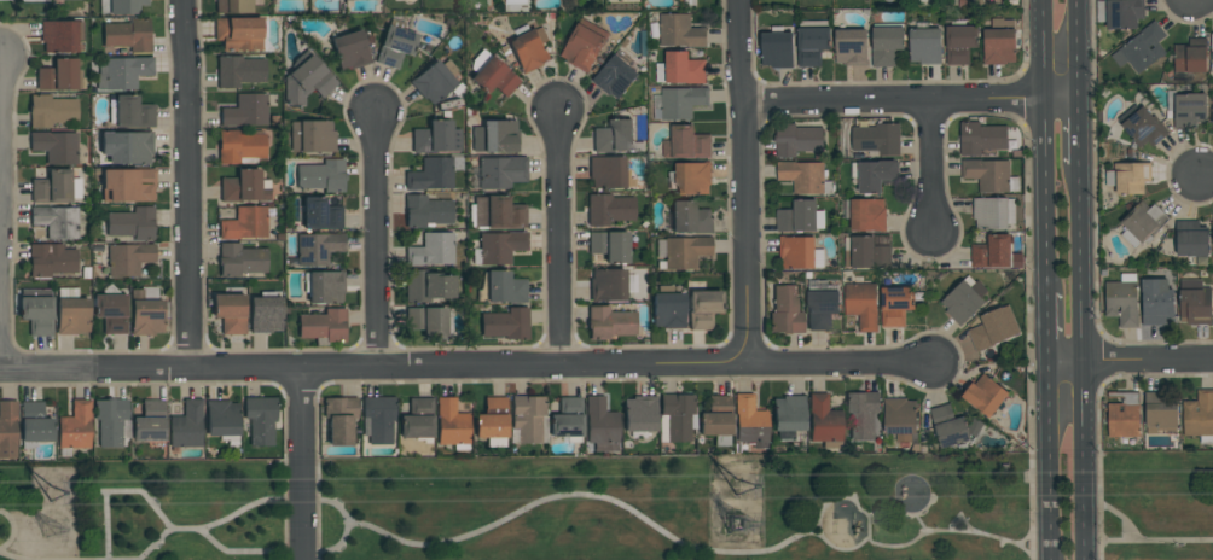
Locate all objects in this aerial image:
building: (4, 0)
building: (34, 0)
building: (516, 1)
building: (979, 1)
building: (690, 2)
building: (126, 6)
building: (234, 6)
building: (1120, 13)
building: (679, 31)
building: (238, 34)
building: (128, 35)
building: (60, 36)
building: (812, 41)
building: (959, 41)
building: (999, 42)
building: (886, 43)
building: (584, 45)
building: (394, 46)
building: (851, 46)
building: (925, 46)
building: (777, 48)
building: (1141, 48)
building: (529, 49)
building: (350, 51)
road: (1079, 51)
building: (1212, 52)
building: (1190, 56)
building: (679, 69)
building: (239, 71)
building: (123, 72)
building: (616, 75)
building: (60, 76)
building: (493, 77)
building: (307, 81)
building: (433, 82)
building: (681, 101)
road: (911, 103)
building: (1186, 107)
building: (52, 111)
building: (245, 111)
building: (132, 112)
building: (1212, 112)
building: (1142, 126)
road: (1080, 132)
building: (312, 136)
building: (494, 136)
building: (615, 136)
building: (436, 138)
building: (981, 138)
building: (796, 139)
building: (876, 139)
building: (686, 142)
building: (240, 146)
road: (1044, 146)
building: (56, 147)
building: (127, 147)
road: (1, 150)
road: (931, 171)
building: (501, 173)
building: (608, 173)
building: (430, 175)
building: (874, 175)
building: (989, 175)
building: (321, 176)
building: (803, 176)
road: (1206, 176)
building: (690, 177)
building: (1128, 177)
road: (744, 181)
building: (127, 185)
road: (187, 186)
building: (57, 187)
building: (244, 187)
building: (609, 209)
building: (426, 211)
building: (495, 212)
building: (993, 212)
building: (865, 214)
building: (319, 215)
building: (689, 217)
building: (800, 217)
building: (57, 221)
building: (1142, 222)
building: (130, 223)
building: (244, 223)
building: (1191, 239)
road: (561, 241)
road: (376, 243)
building: (608, 245)
building: (500, 247)
building: (317, 249)
building: (431, 250)
building: (684, 252)
building: (800, 252)
building: (866, 252)
building: (994, 252)
building: (128, 258)
building: (52, 259)
building: (240, 259)
building: (606, 285)
building: (429, 286)
building: (324, 287)
building: (504, 288)
building: (1122, 299)
building: (964, 301)
building: (1156, 301)
building: (1194, 302)
building: (822, 304)
building: (861, 304)
building: (895, 305)
building: (667, 308)
building: (703, 308)
building: (785, 310)
building: (110, 311)
building: (39, 313)
building: (72, 313)
building: (230, 313)
building: (145, 315)
building: (265, 315)
building: (426, 322)
building: (609, 322)
building: (323, 325)
building: (504, 325)
road: (1045, 326)
building: (992, 328)
road: (1027, 328)
road: (1128, 358)
road: (1081, 361)
road: (561, 368)
road: (95, 371)
road: (298, 387)
building: (985, 395)
building: (1159, 412)
building: (861, 414)
building: (639, 415)
building: (787, 415)
building: (1124, 415)
building: (674, 416)
building: (715, 416)
building: (1199, 416)
building: (221, 418)
building: (565, 418)
building: (417, 419)
building: (491, 419)
building: (527, 419)
building: (900, 419)
building: (260, 420)
building: (339, 420)
building: (378, 420)
building: (111, 421)
building: (149, 421)
building: (749, 421)
building: (824, 421)
building: (451, 424)
building: (35, 425)
building: (600, 425)
building: (76, 426)
building: (186, 426)
building: (948, 426)
building: (7, 430)
road: (1098, 444)
road: (1045, 460)
road: (301, 466)
power tower: (739, 484)
road: (143, 491)
power tower: (59, 492)
road: (578, 494)
road: (857, 508)
park: (619, 511)
road: (901, 511)
road: (0, 513)
road: (1120, 517)
power tower: (739, 523)
road: (919, 523)
road: (105, 525)
road: (13, 531)
road: (951, 531)
power tower: (54, 532)
road: (1025, 537)
road: (1156, 538)
road: (152, 543)
road: (306, 550)
road: (1093, 555)

